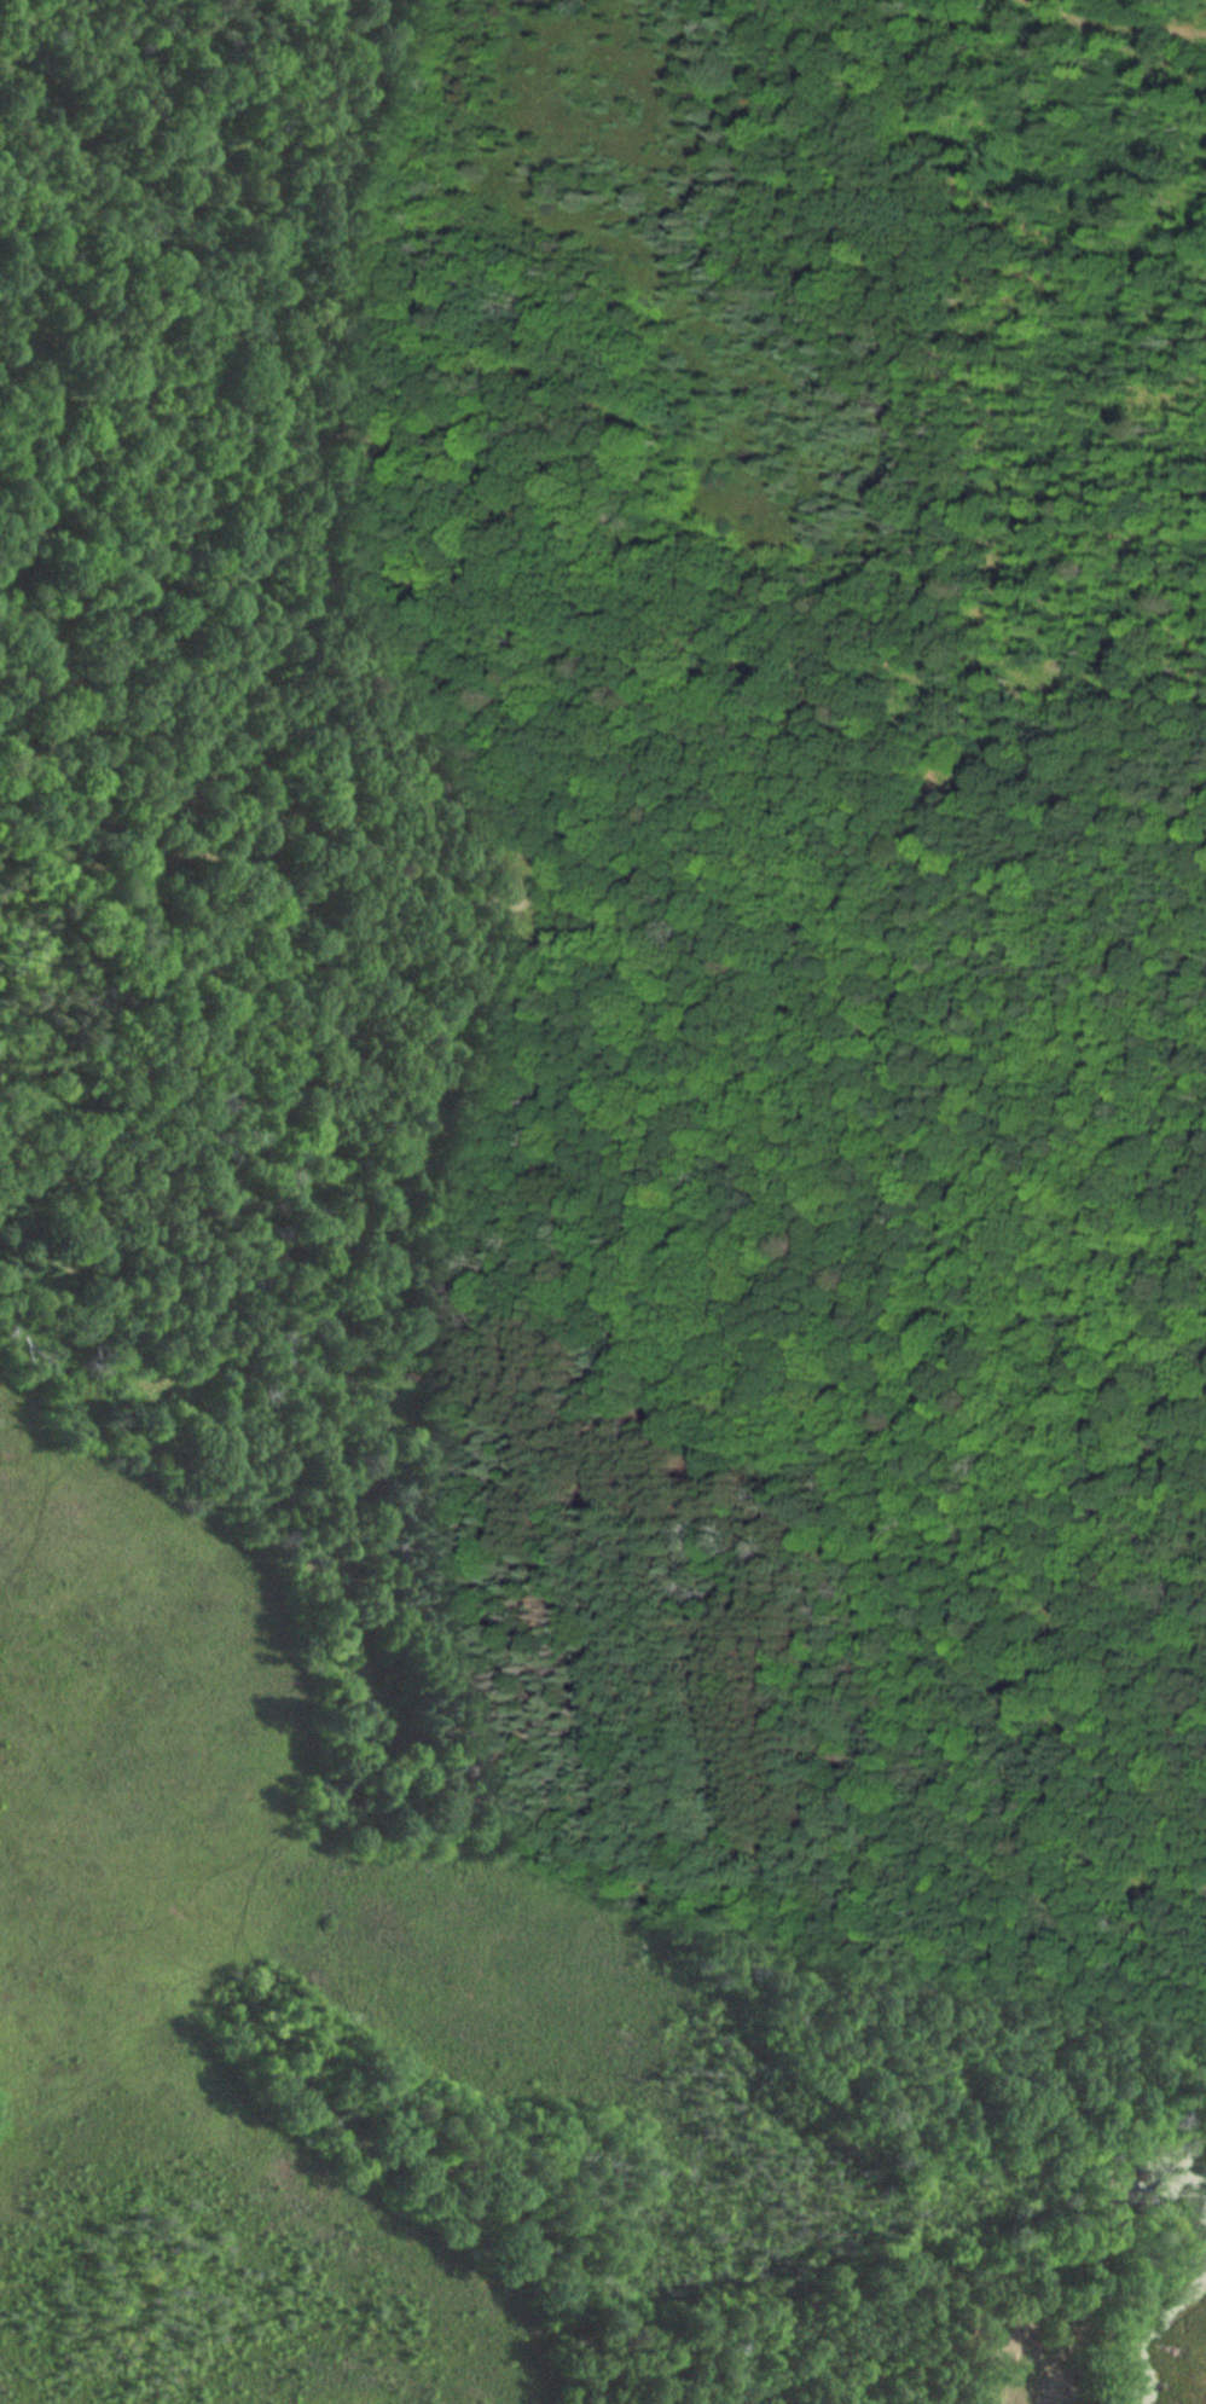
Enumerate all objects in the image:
road: (916, 903)

